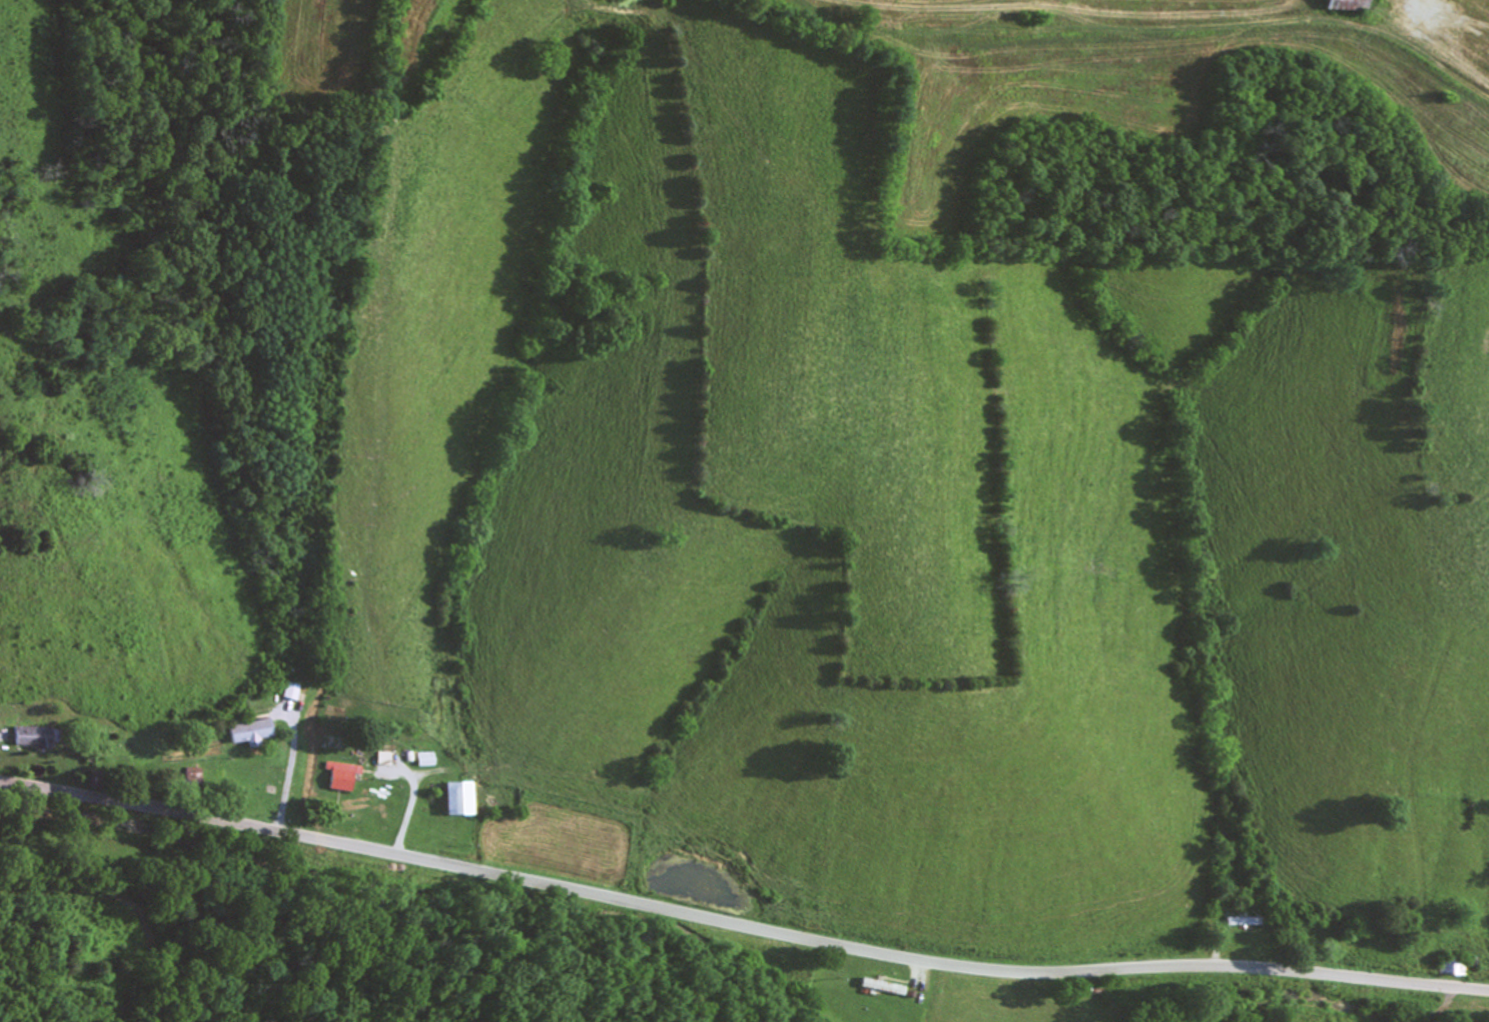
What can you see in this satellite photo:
building: (1351, 4)
road: (1138, 67)
building: (294, 690)
building: (253, 730)
building: (40, 735)
building: (430, 758)
building: (344, 776)
building: (463, 797)
building: (1247, 920)
road: (740, 924)
building: (1455, 966)
building: (886, 986)
road: (990, 997)
road: (1403, 1009)

